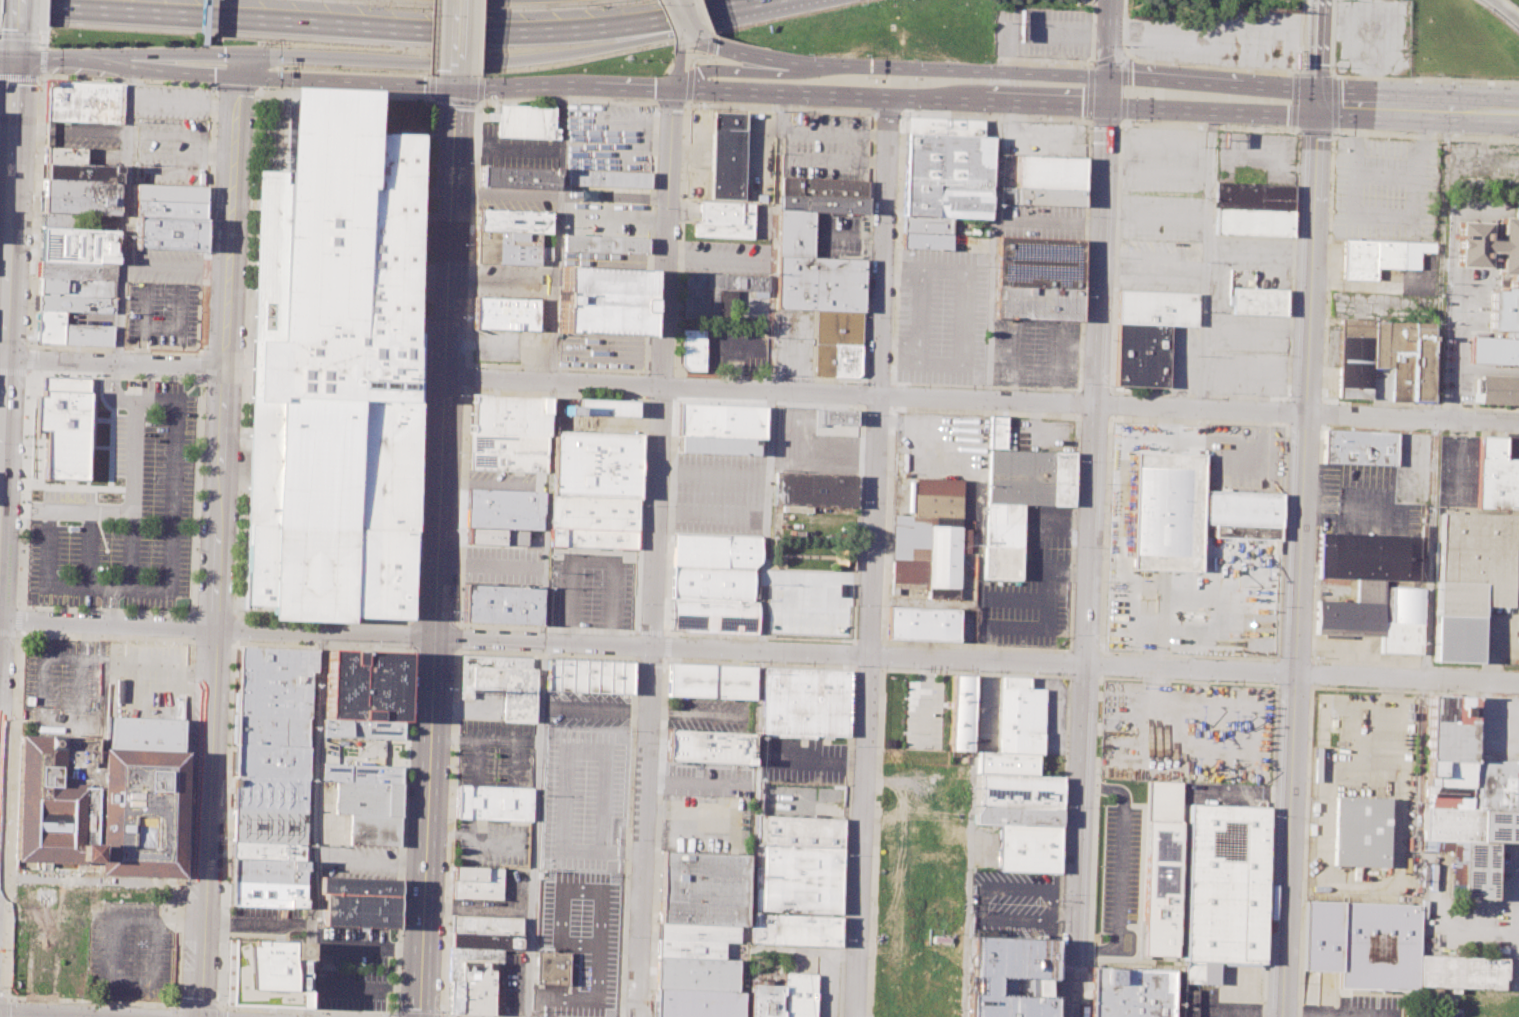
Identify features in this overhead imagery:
road: (1505, 10)
road: (715, 11)
road: (16, 12)
road: (42, 13)
road: (705, 17)
road: (688, 18)
road: (686, 21)
road: (41, 25)
road: (329, 26)
parking lot: (1043, 31)
road: (1045, 32)
road: (1093, 34)
road: (18, 36)
road: (434, 36)
parking lot: (1369, 36)
road: (40, 37)
road: (44, 37)
road: (455, 37)
road: (481, 37)
traffic signals: (700, 37)
road: (1110, 38)
parking lot: (1219, 38)
street lamp: (39, 43)
road: (710, 44)
road: (46, 46)
road: (1317, 51)
traffic signals: (262, 54)
road: (370, 57)
road: (698, 57)
traffic signals: (15, 58)
road: (42, 60)
road: (793, 61)
road: (1046, 61)
road: (678, 65)
road: (251, 66)
road: (1219, 67)
road: (999, 70)
road: (1126, 70)
road: (744, 72)
road: (226, 76)
traffic signals: (1108, 76)
road: (18, 77)
road: (41, 78)
traffic signals: (240, 78)
road: (1387, 78)
street lamp: (39, 80)
road: (454, 81)
road: (1215, 82)
road: (688, 84)
road: (215, 87)
road: (525, 87)
road: (236, 88)
traffic signals: (454, 88)
traffic signals: (673, 89)
road: (1107, 90)
road: (742, 92)
road: (1089, 92)
road: (343, 93)
road: (457, 99)
road: (1334, 100)
building: (83, 102)
road: (998, 102)
road: (480, 103)
road: (657, 103)
road: (671, 103)
road: (686, 103)
traffic signals: (1317, 103)
traffic signals: (1107, 105)
road: (1418, 106)
road: (1213, 111)
road: (887, 112)
road: (997, 116)
road: (1106, 121)
building: (524, 122)
road: (1210, 125)
road: (70, 128)
road: (1316, 131)
parking lot: (168, 134)
road: (1425, 135)
parking lot: (609, 137)
parking lot: (825, 145)
parking lot: (517, 150)
parking lot: (698, 154)
building: (62, 155)
building: (726, 155)
parking lot: (758, 155)
parking lot: (1254, 157)
building: (80, 172)
building: (1049, 172)
building: (519, 178)
building: (607, 178)
building: (941, 180)
building: (79, 188)
parking lot: (1383, 189)
building: (170, 193)
building: (824, 195)
building: (1048, 196)
building: (1253, 196)
parking lot: (517, 200)
building: (79, 205)
building: (169, 209)
parking lot: (1160, 209)
parking lot: (605, 210)
street lamp: (32, 215)
road: (123, 217)
building: (723, 219)
building: (58, 220)
parking lot: (760, 220)
parking lot: (1039, 221)
building: (513, 222)
building: (1252, 222)
road: (8, 234)
building: (168, 234)
road: (556, 235)
parking lot: (840, 236)
road: (666, 237)
building: (604, 242)
building: (77, 245)
road: (884, 247)
building: (507, 248)
road: (990, 251)
road: (1258, 253)
parking lot: (727, 256)
building: (1378, 256)
parking lot: (603, 258)
road: (1205, 261)
parking lot: (1248, 263)
building: (76, 271)
building: (814, 271)
parking lot: (1383, 275)
building: (1038, 278)
building: (75, 288)
parking lot: (1465, 288)
building: (716, 292)
parking lot: (162, 298)
building: (602, 299)
building: (1257, 301)
building: (75, 304)
building: (1502, 310)
building: (504, 313)
parking lot: (542, 313)
parking lot: (940, 317)
building: (69, 331)
building: (1147, 334)
parking lot: (738, 335)
street lamp: (26, 342)
parking lot: (796, 342)
building: (838, 344)
building: (691, 348)
street lamp: (51, 349)
parking lot: (600, 349)
road: (202, 352)
parking lot: (1034, 352)
parking lot: (1247, 354)
building: (1403, 357)
road: (28, 358)
road: (419, 358)
parking lot: (1180, 358)
building: (1354, 358)
road: (1323, 360)
road: (114, 366)
road: (13, 370)
road: (111, 370)
building: (331, 370)
road: (647, 371)
street lamp: (149, 374)
road: (110, 377)
road: (863, 380)
road: (113, 384)
road: (107, 385)
road: (987, 388)
building: (1497, 389)
road: (1433, 393)
road: (1199, 394)
road: (643, 397)
road: (981, 400)
building: (600, 408)
building: (508, 415)
building: (837, 416)
building: (720, 421)
building: (65, 424)
building: (995, 432)
parking lot: (1039, 434)
parking lot: (1168, 438)
parking lot: (809, 445)
building: (717, 446)
building: (1357, 447)
parking lot: (1510, 447)
building: (506, 451)
road: (134, 455)
building: (595, 464)
road: (711, 471)
parking lot: (1455, 471)
building: (1495, 476)
parking lot: (505, 480)
building: (813, 489)
road: (23, 490)
road: (171, 490)
road: (196, 494)
parking lot: (718, 494)
building: (1018, 500)
parking lot: (1362, 501)
road: (58, 508)
building: (504, 509)
parking lot: (122, 513)
road: (545, 513)
building: (593, 513)
building: (1189, 513)
road: (711, 514)
road: (1351, 516)
building: (495, 536)
building: (592, 538)
building: (928, 538)
road: (220, 547)
road: (88, 548)
road: (439, 552)
building: (1367, 555)
road: (764, 556)
parking lot: (1514, 557)
road: (1301, 560)
road: (1089, 561)
parking lot: (501, 566)
building: (714, 566)
street lamp: (18, 577)
building: (1467, 580)
parking lot: (1030, 584)
parking lot: (590, 586)
road: (105, 600)
road: (113, 602)
parking lot: (810, 603)
building: (500, 605)
building: (1375, 615)
building: (713, 616)
road: (108, 618)
road: (19, 619)
building: (921, 623)
street lamp: (25, 631)
road: (9, 632)
road: (650, 632)
street lamp: (145, 635)
road: (409, 636)
road: (167, 639)
road: (853, 639)
road: (664, 645)
parking lot: (1357, 648)
road: (759, 652)
road: (543, 655)
road: (753, 662)
street lamp: (14, 669)
road: (971, 672)
building: (588, 675)
building: (274, 680)
road: (1184, 680)
building: (711, 681)
building: (503, 682)
building: (364, 685)
road: (647, 701)
building: (804, 701)
parking lot: (480, 703)
road: (868, 706)
parking lot: (587, 707)
parking lot: (932, 712)
parking lot: (709, 713)
building: (959, 713)
parking lot: (1051, 713)
parking lot: (988, 714)
building: (1020, 716)
street lamp: (12, 728)
building: (363, 728)
parking lot: (1495, 729)
building: (271, 730)
road: (485, 738)
road: (404, 743)
building: (709, 746)
road: (1307, 746)
parking lot: (361, 750)
parking lot: (494, 753)
parking lot: (802, 758)
building: (270, 760)
building: (360, 773)
road: (563, 773)
road: (700, 782)
building: (1020, 791)
building: (269, 793)
building: (366, 798)
building: (101, 799)
parking lot: (800, 799)
building: (1466, 799)
building: (493, 802)
road: (687, 810)
building: (1017, 815)
street lamp: (9, 820)
building: (268, 825)
road: (315, 826)
building: (373, 830)
road: (533, 830)
building: (799, 831)
building: (1359, 831)
road: (969, 839)
parking lot: (491, 843)
road: (472, 844)
parking lot: (349, 846)
parking lot: (983, 847)
building: (1026, 848)
building: (267, 850)
road: (371, 858)
building: (1159, 868)
building: (267, 870)
parking lot: (1507, 871)
parking lot: (1120, 874)
building: (801, 880)
building: (475, 883)
parking lot: (513, 884)
building: (356, 886)
building: (703, 889)
building: (1224, 889)
building: (266, 894)
parking lot: (1013, 904)
street lamp: (5, 906)
road: (478, 909)
building: (358, 911)
road: (223, 912)
parking lot: (265, 917)
road: (257, 923)
building: (794, 929)
building: (485, 932)
building: (698, 933)
parking lot: (583, 935)
road: (368, 946)
building: (691, 949)
road: (801, 950)
building: (1385, 950)
building: (470, 959)
parking lot: (800, 964)
building: (551, 966)
parking lot: (353, 968)
building: (264, 973)
building: (697, 974)
building: (1010, 976)
building: (1176, 979)
street lamp: (2, 986)
parking lot: (826, 986)
road: (366, 988)
building: (477, 988)
parking lot: (508, 989)
building: (1129, 992)
parking lot: (1231, 992)
building: (799, 995)
street lamp: (217, 996)
road: (2, 997)
building: (455, 997)
street lamp: (10, 998)
parking lot: (550, 999)
building: (765, 1000)
road: (198, 1003)
building: (697, 1003)
building: (1188, 1003)
street lamp: (92, 1004)
parking lot: (1355, 1006)
road: (3, 1007)
street lamp: (168, 1007)
road: (174, 1011)
road: (219, 1011)
street lamp: (442, 1012)
road: (1331, 1013)
road: (417, 1014)
parking lot: (1435, 1014)
road: (394, 1015)
road: (441, 1015)
road: (13, 1016)
road: (442, 1016)
road: (464, 1016)

